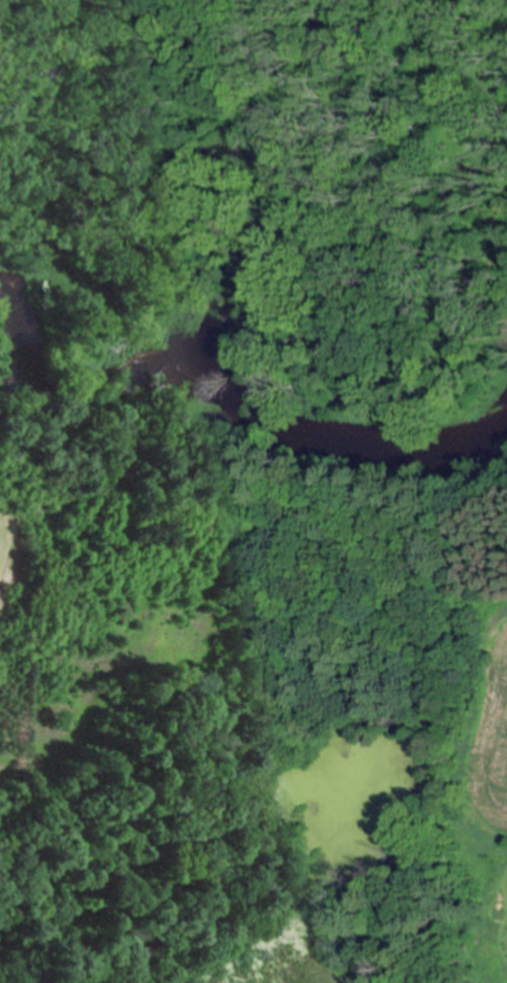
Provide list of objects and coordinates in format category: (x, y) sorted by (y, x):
river: (257, 363)

